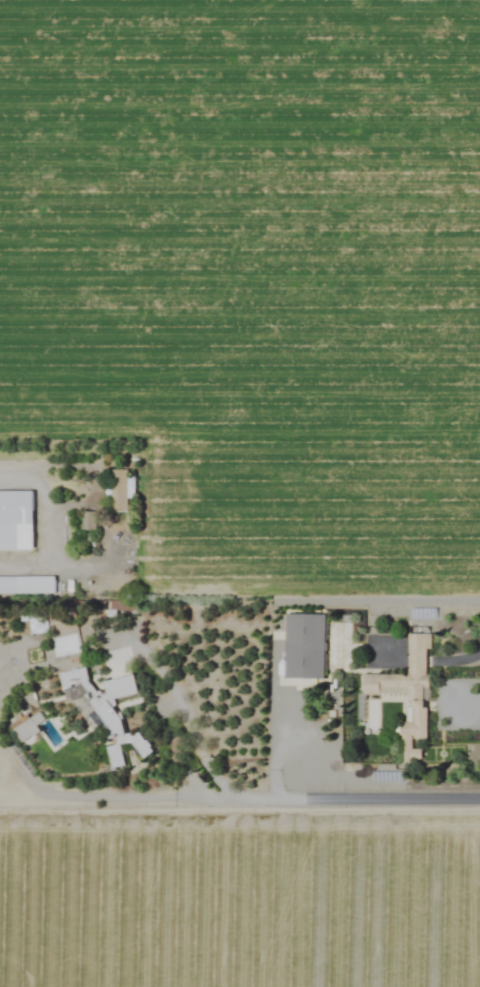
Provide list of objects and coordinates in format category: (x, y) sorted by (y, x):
crop: (256, 265)
building: (118, 489)
building: (88, 520)
building: (16, 521)
building: (27, 585)
road: (461, 657)
building: (407, 690)
road: (466, 702)
building: (104, 713)
road: (275, 746)
road: (239, 795)
crop: (240, 890)

